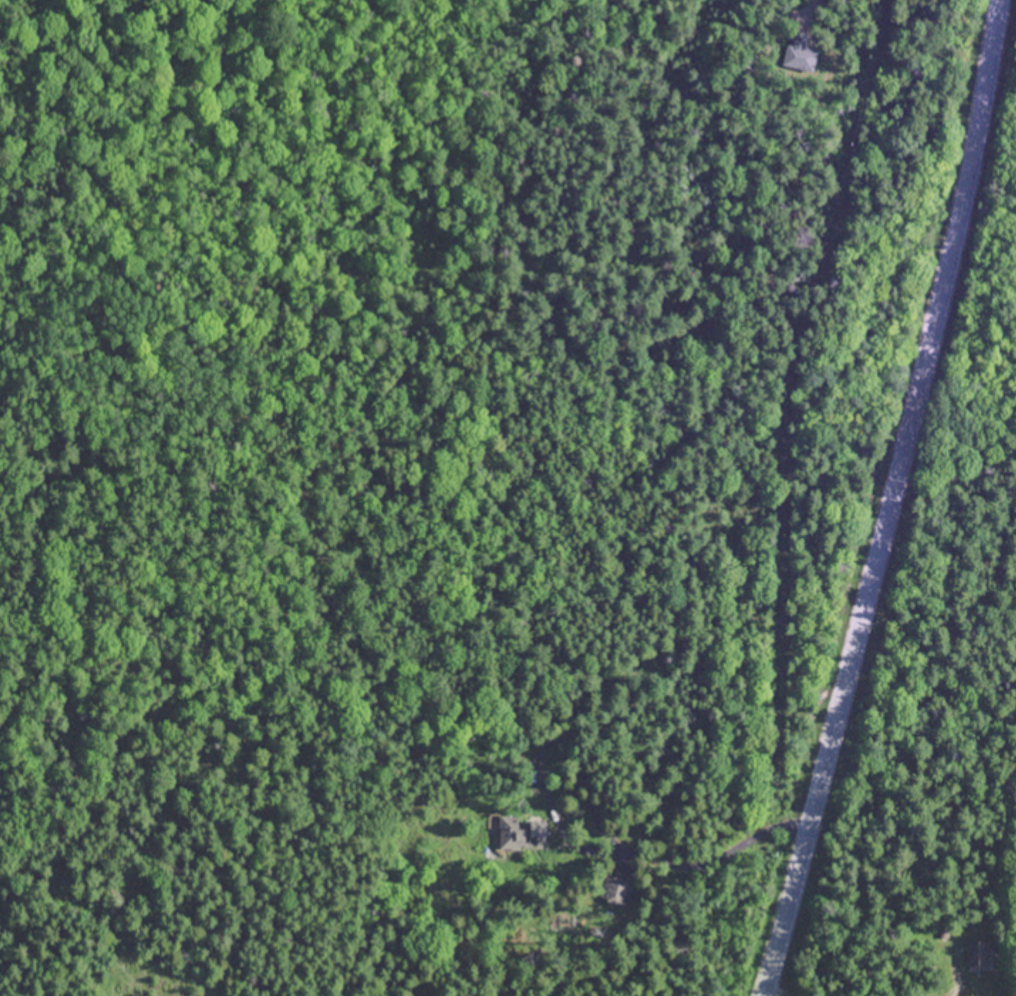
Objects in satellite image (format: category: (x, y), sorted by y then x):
road: (810, 6)
building: (800, 53)
road: (891, 500)
building: (521, 832)
road: (654, 864)
building: (615, 891)
building: (978, 953)

